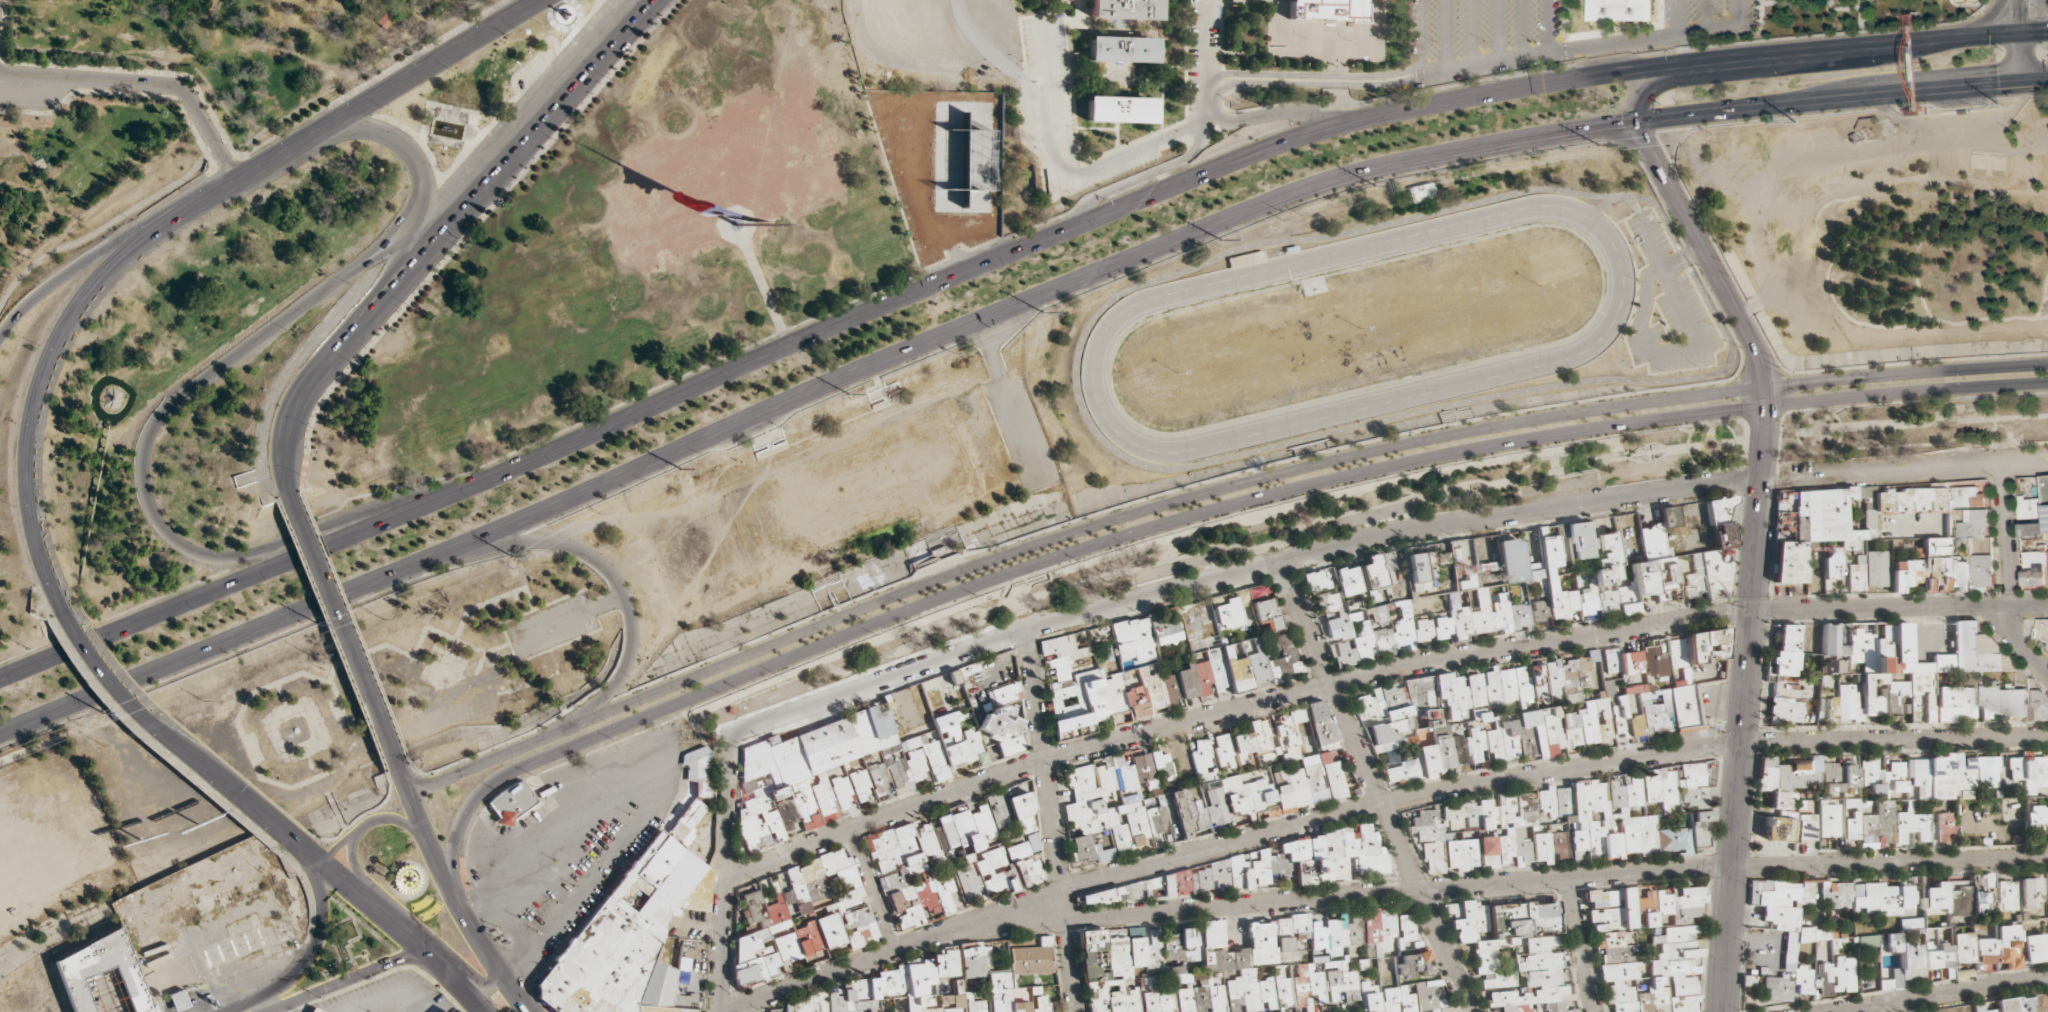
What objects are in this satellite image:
parking lot: (1702, 12)
parking lot: (1476, 28)
traffic signals: (2014, 33)
road: (2014, 42)
parking lot: (1198, 47)
traffic signals: (1695, 65)
parking lot: (1048, 78)
traffic signals: (2015, 85)
traffic signals: (1636, 121)
park: (957, 160)
park: (1884, 230)
park: (382, 251)
road: (998, 258)
parking lot: (1667, 304)
road: (998, 312)
parking lot: (1025, 430)
park: (850, 489)
park: (1253, 545)
park: (401, 683)
parking lot: (567, 836)
park: (414, 884)
road: (349, 979)

